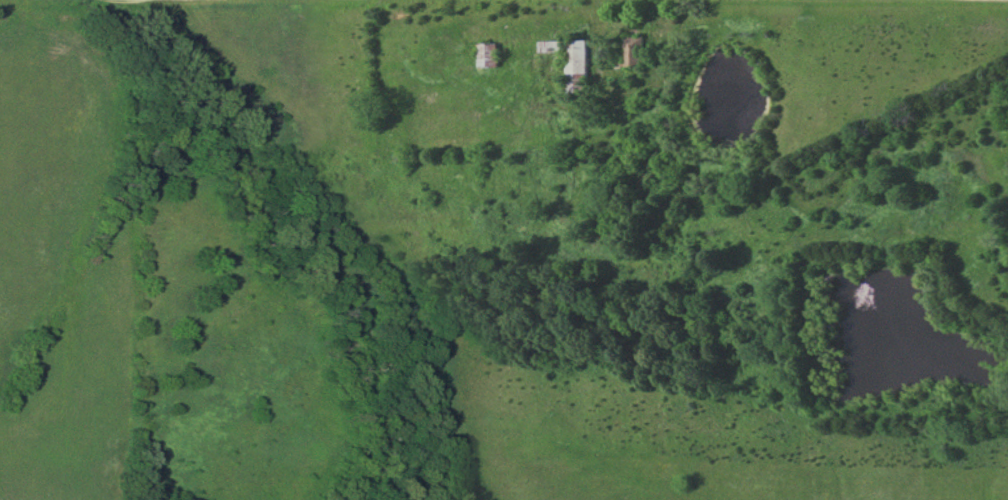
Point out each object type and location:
building: (632, 52)
building: (487, 57)
building: (570, 63)
road: (632, 90)

